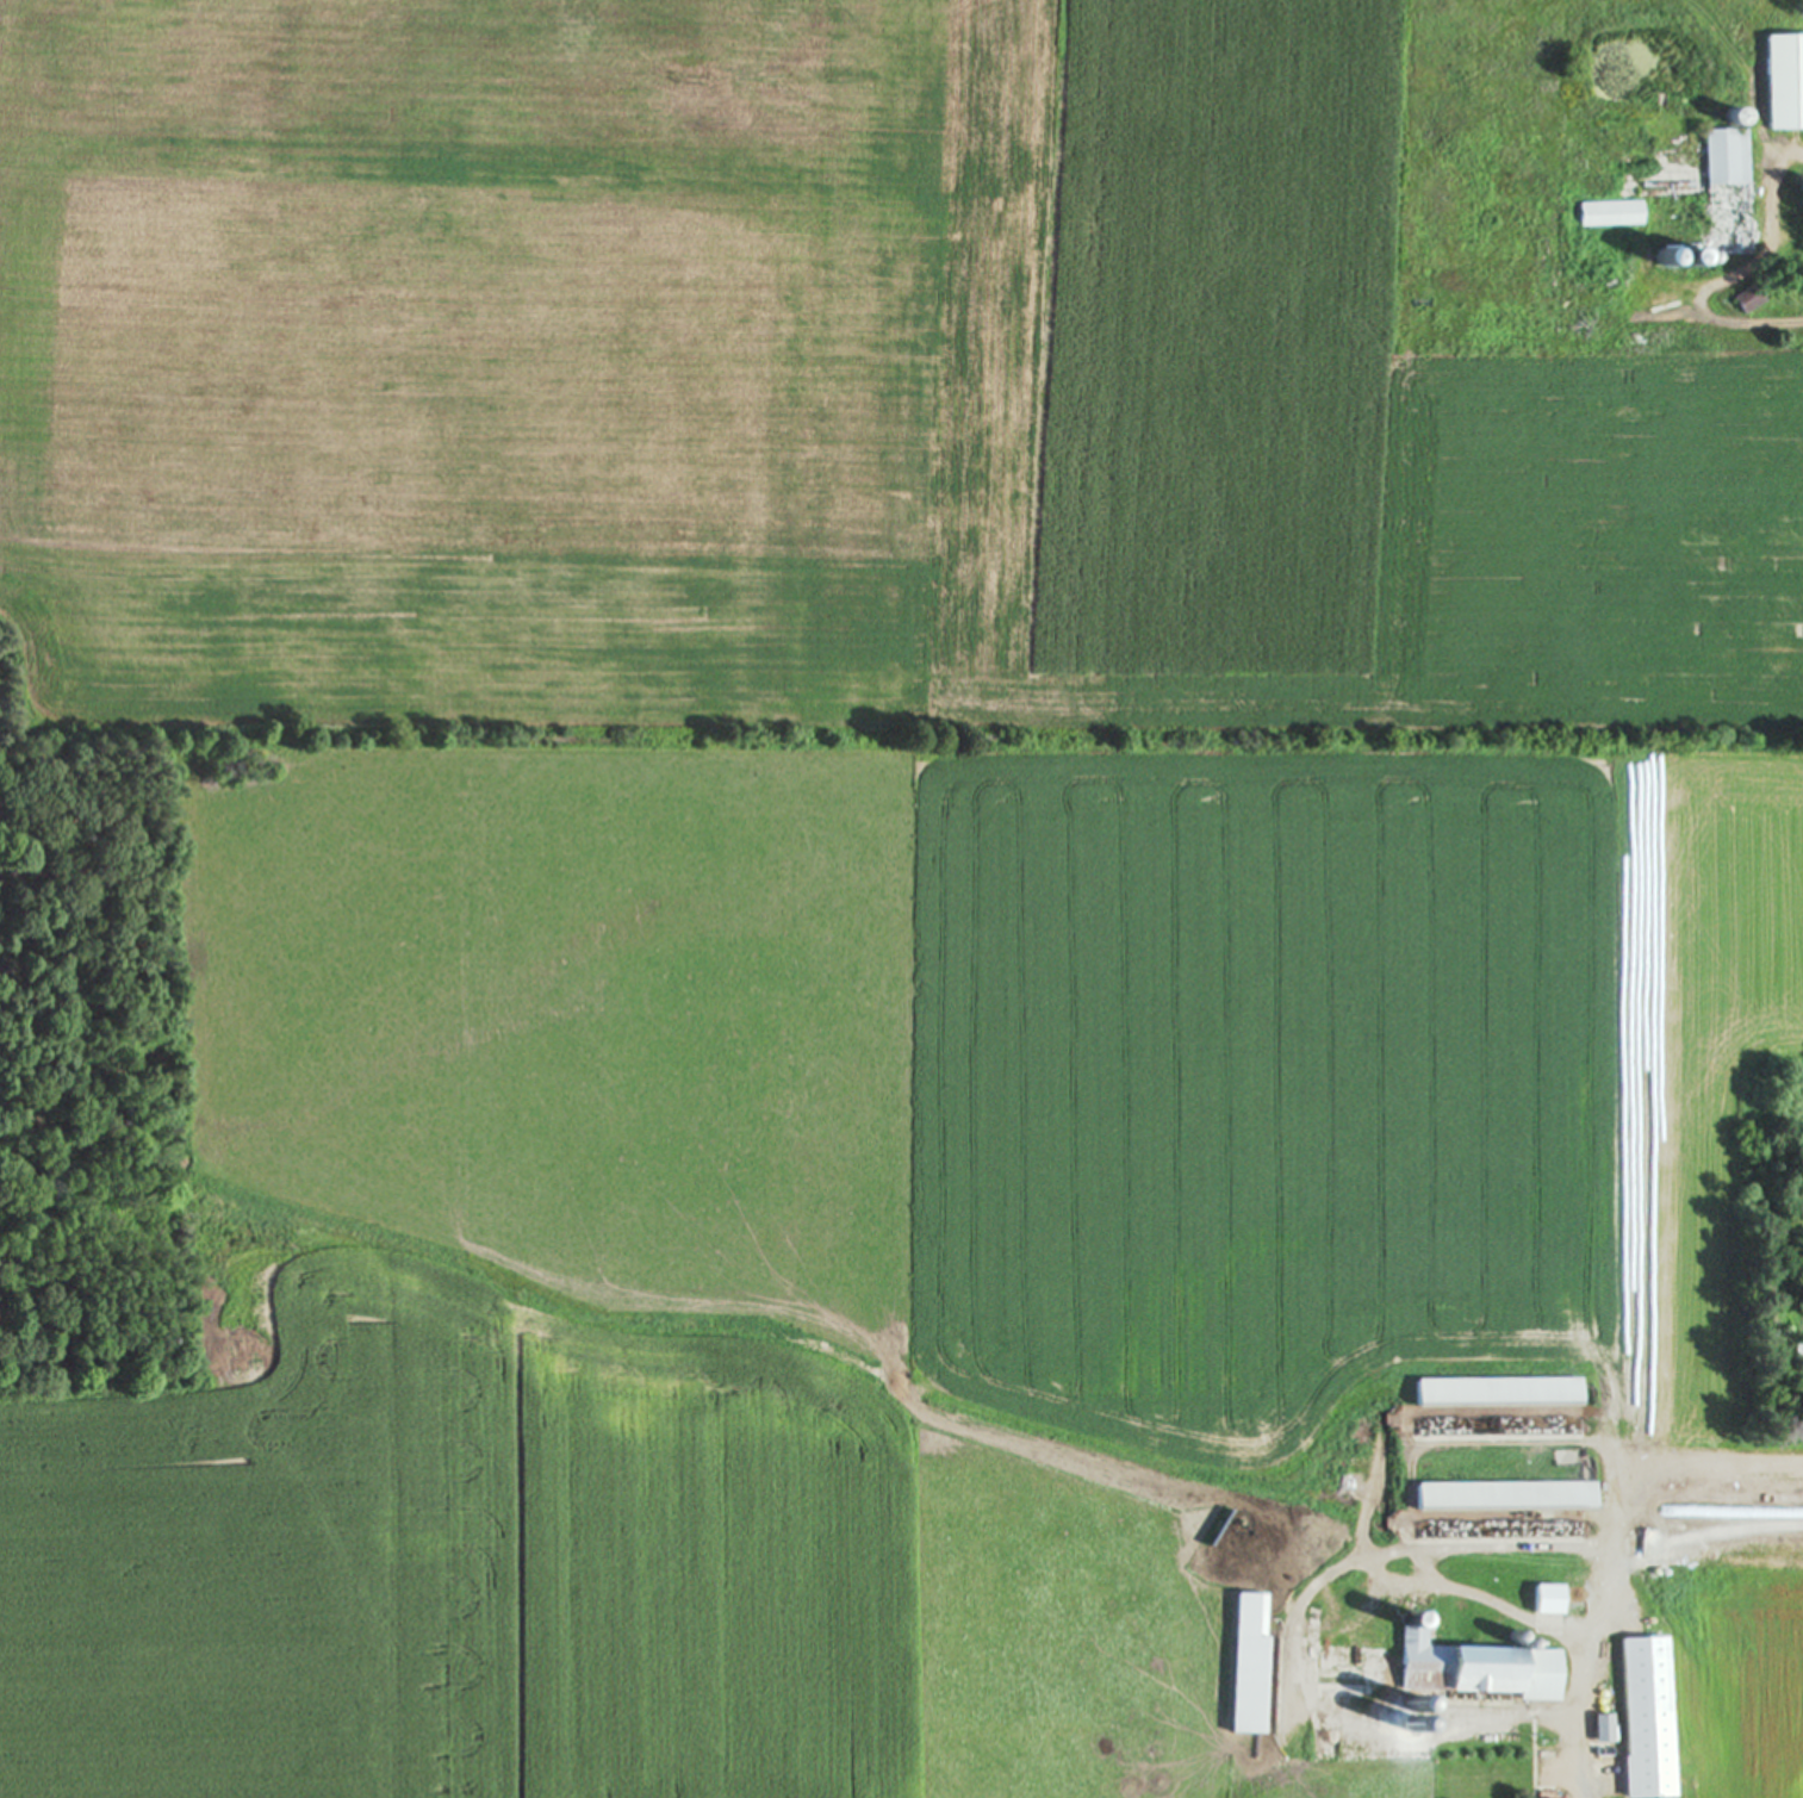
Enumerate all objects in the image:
building: (1784, 83)
building: (1728, 194)
building: (1610, 214)
building: (1749, 301)
building: (1797, 1363)
building: (1497, 1394)
building: (1505, 1498)
building: (1547, 1601)
building: (1438, 1669)
building: (1248, 1686)
building: (1646, 1718)

